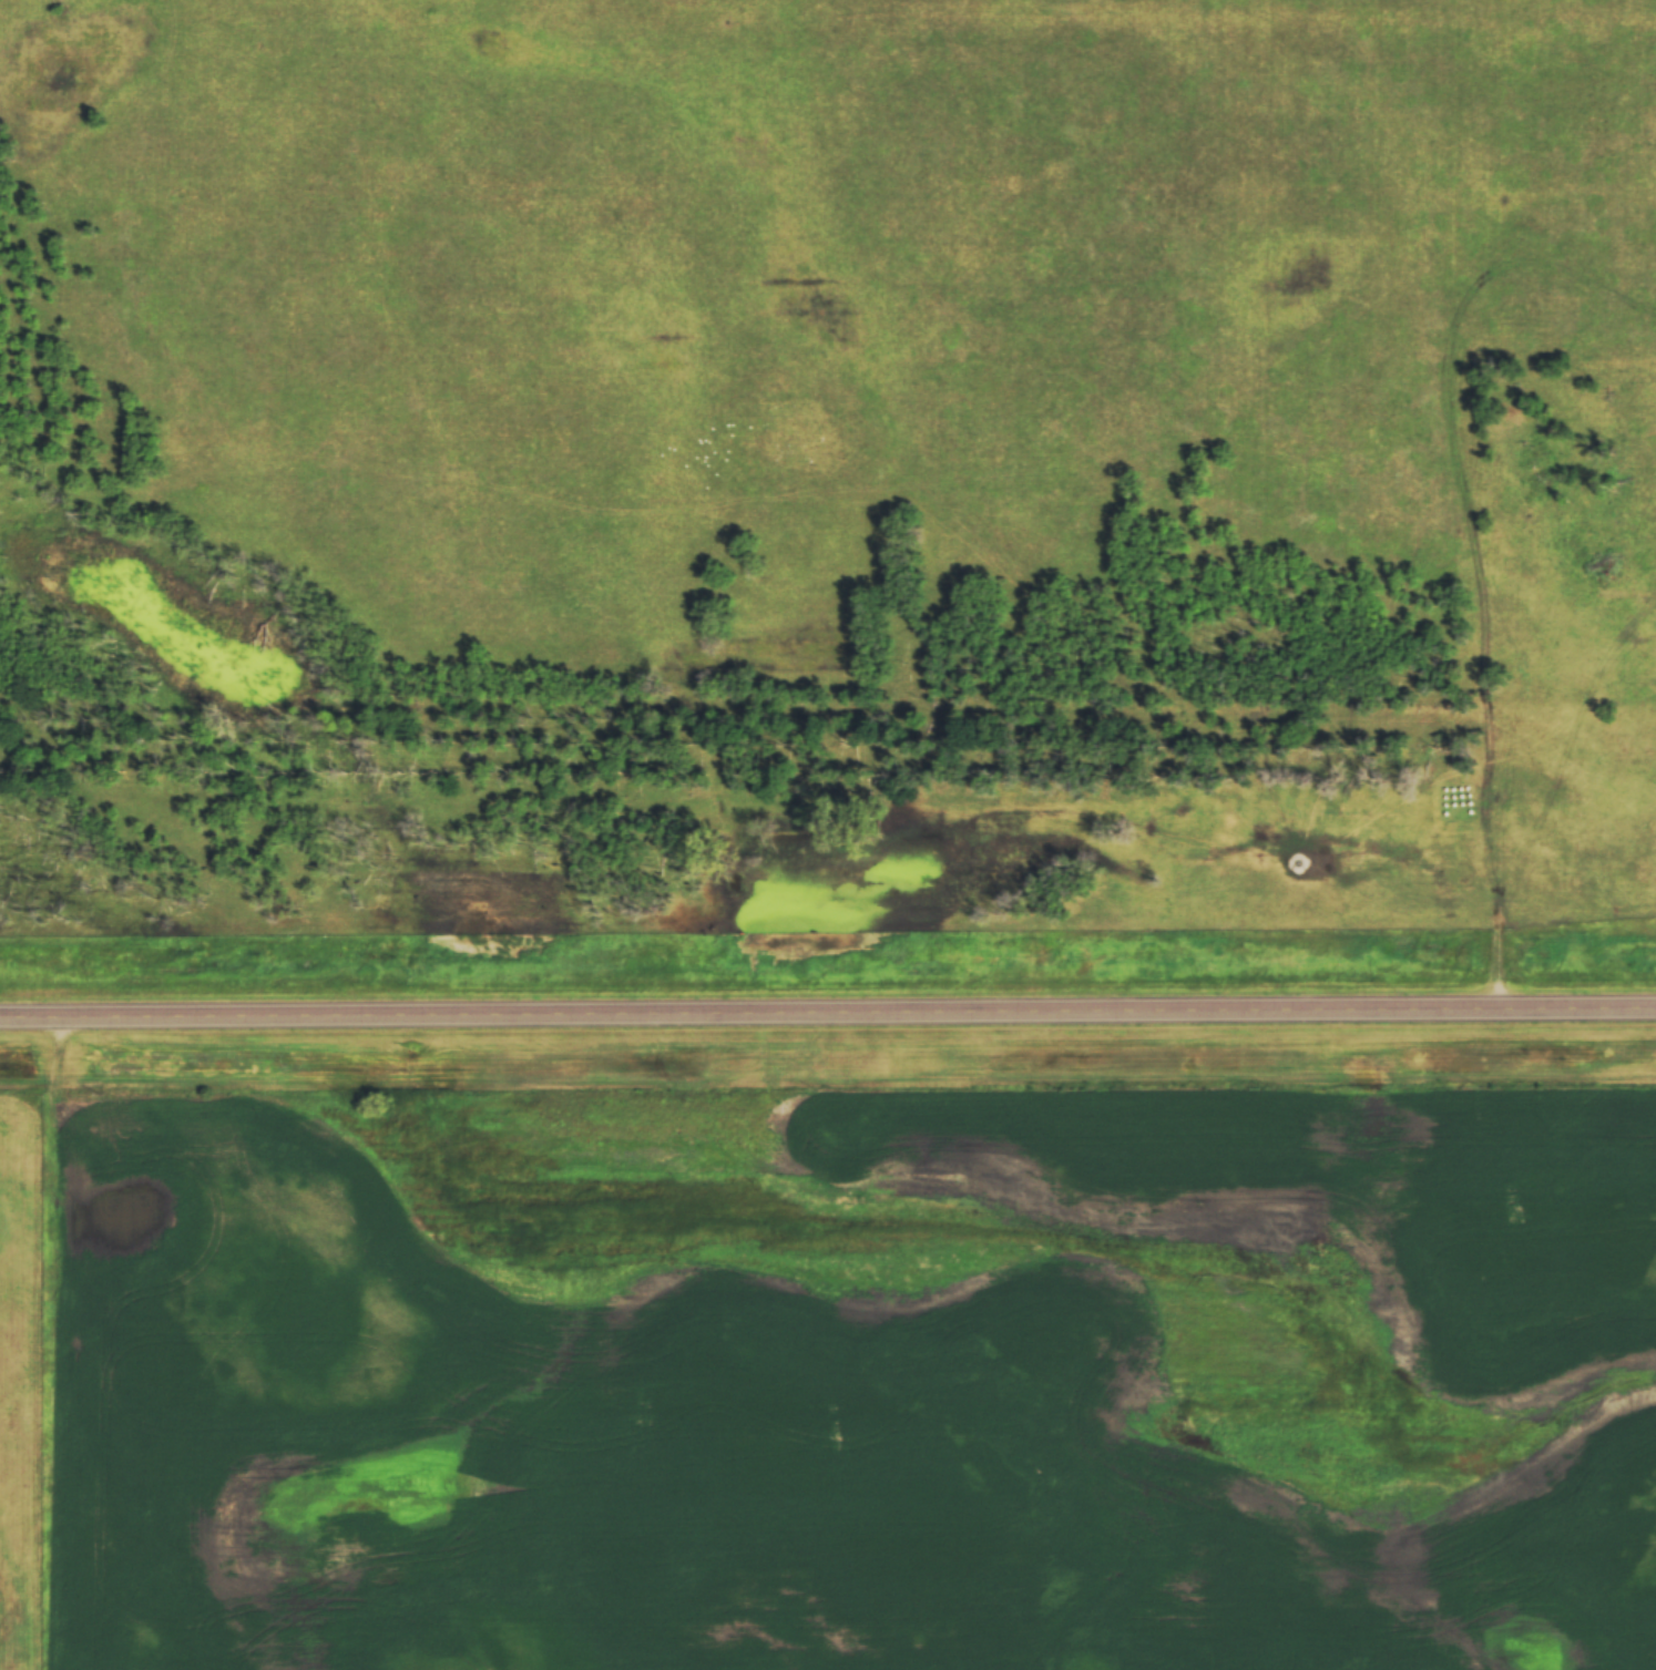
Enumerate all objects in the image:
road: (828, 988)
building: (891, 1006)

